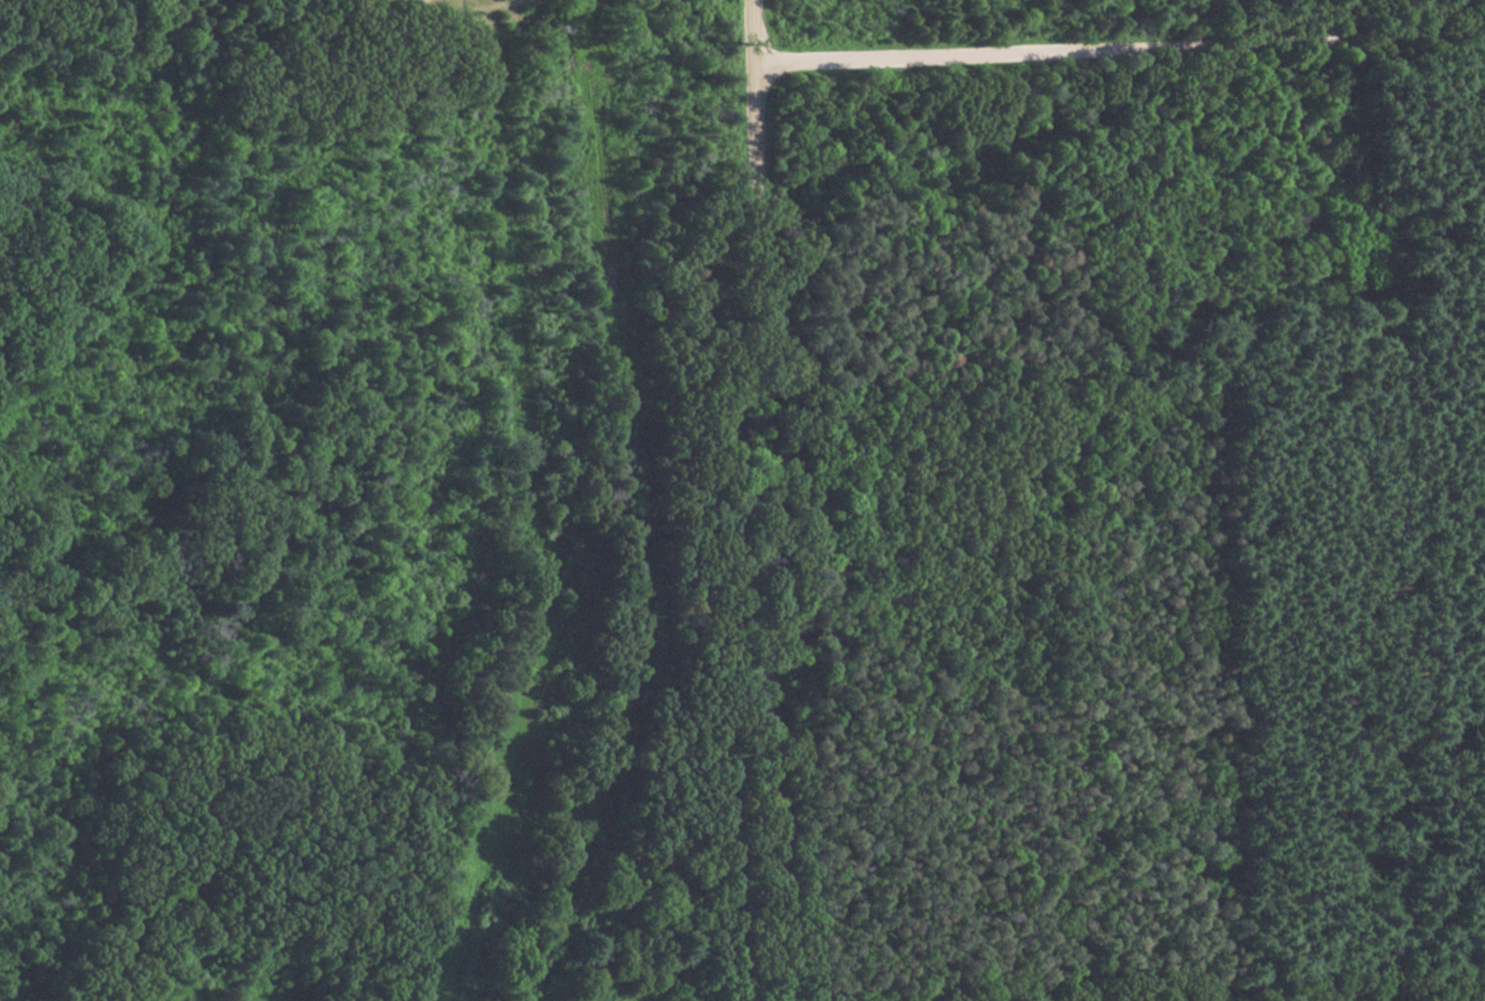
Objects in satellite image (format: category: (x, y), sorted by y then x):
road: (1120, 45)
road: (1415, 188)
road: (786, 304)
road: (1392, 492)
road: (763, 500)
park: (375, 541)
road: (1129, 970)

